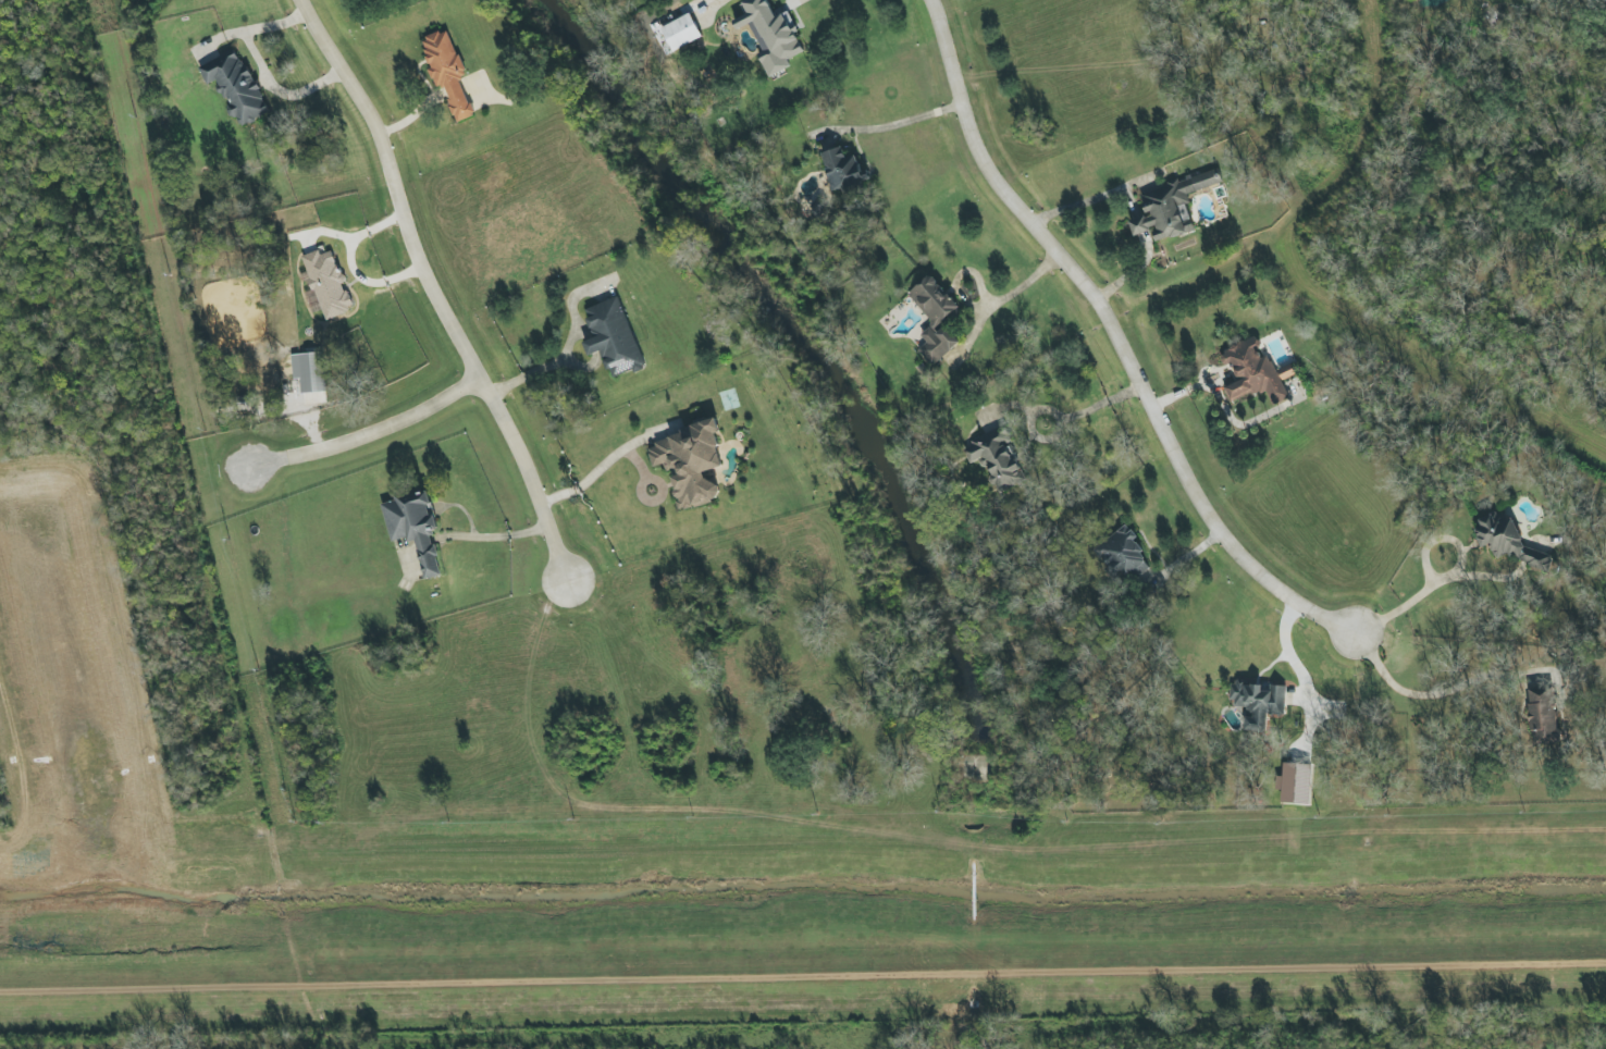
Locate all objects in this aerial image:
road: (792, 2)
building: (680, 32)
building: (770, 35)
road: (262, 65)
building: (446, 72)
building: (234, 87)
road: (897, 118)
building: (842, 169)
road: (1090, 198)
building: (1171, 207)
road: (1137, 225)
road: (1128, 271)
building: (325, 284)
road: (433, 292)
road: (1004, 292)
building: (935, 319)
building: (611, 337)
road: (1116, 341)
road: (536, 370)
building: (1255, 372)
river: (832, 374)
road: (1097, 412)
road: (371, 441)
building: (998, 458)
building: (689, 464)
road: (591, 479)
building: (413, 530)
building: (1500, 536)
building: (1539, 559)
road: (1450, 573)
road: (1280, 650)
road: (1426, 692)
building: (1258, 703)
building: (1544, 716)
building: (1296, 785)
river: (989, 912)
road: (347, 1021)
river: (977, 1029)

